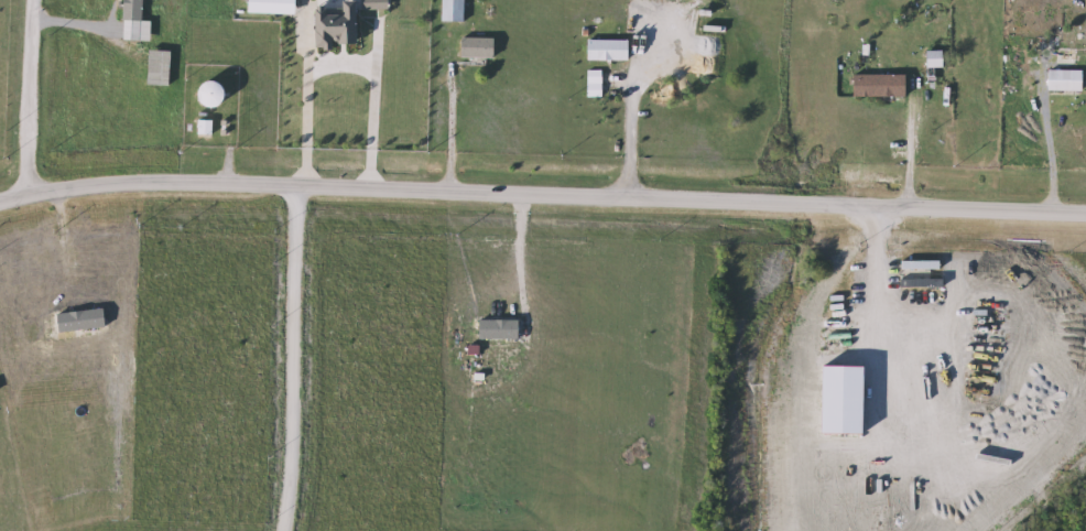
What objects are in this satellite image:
building: (456, 12)
road: (79, 21)
building: (138, 22)
building: (481, 48)
building: (611, 51)
building: (928, 59)
building: (1067, 59)
road: (344, 61)
building: (340, 66)
building: (875, 86)
building: (218, 95)
road: (28, 100)
road: (629, 110)
building: (208, 129)
road: (450, 129)
road: (1049, 140)
road: (911, 154)
road: (542, 194)
road: (880, 264)

